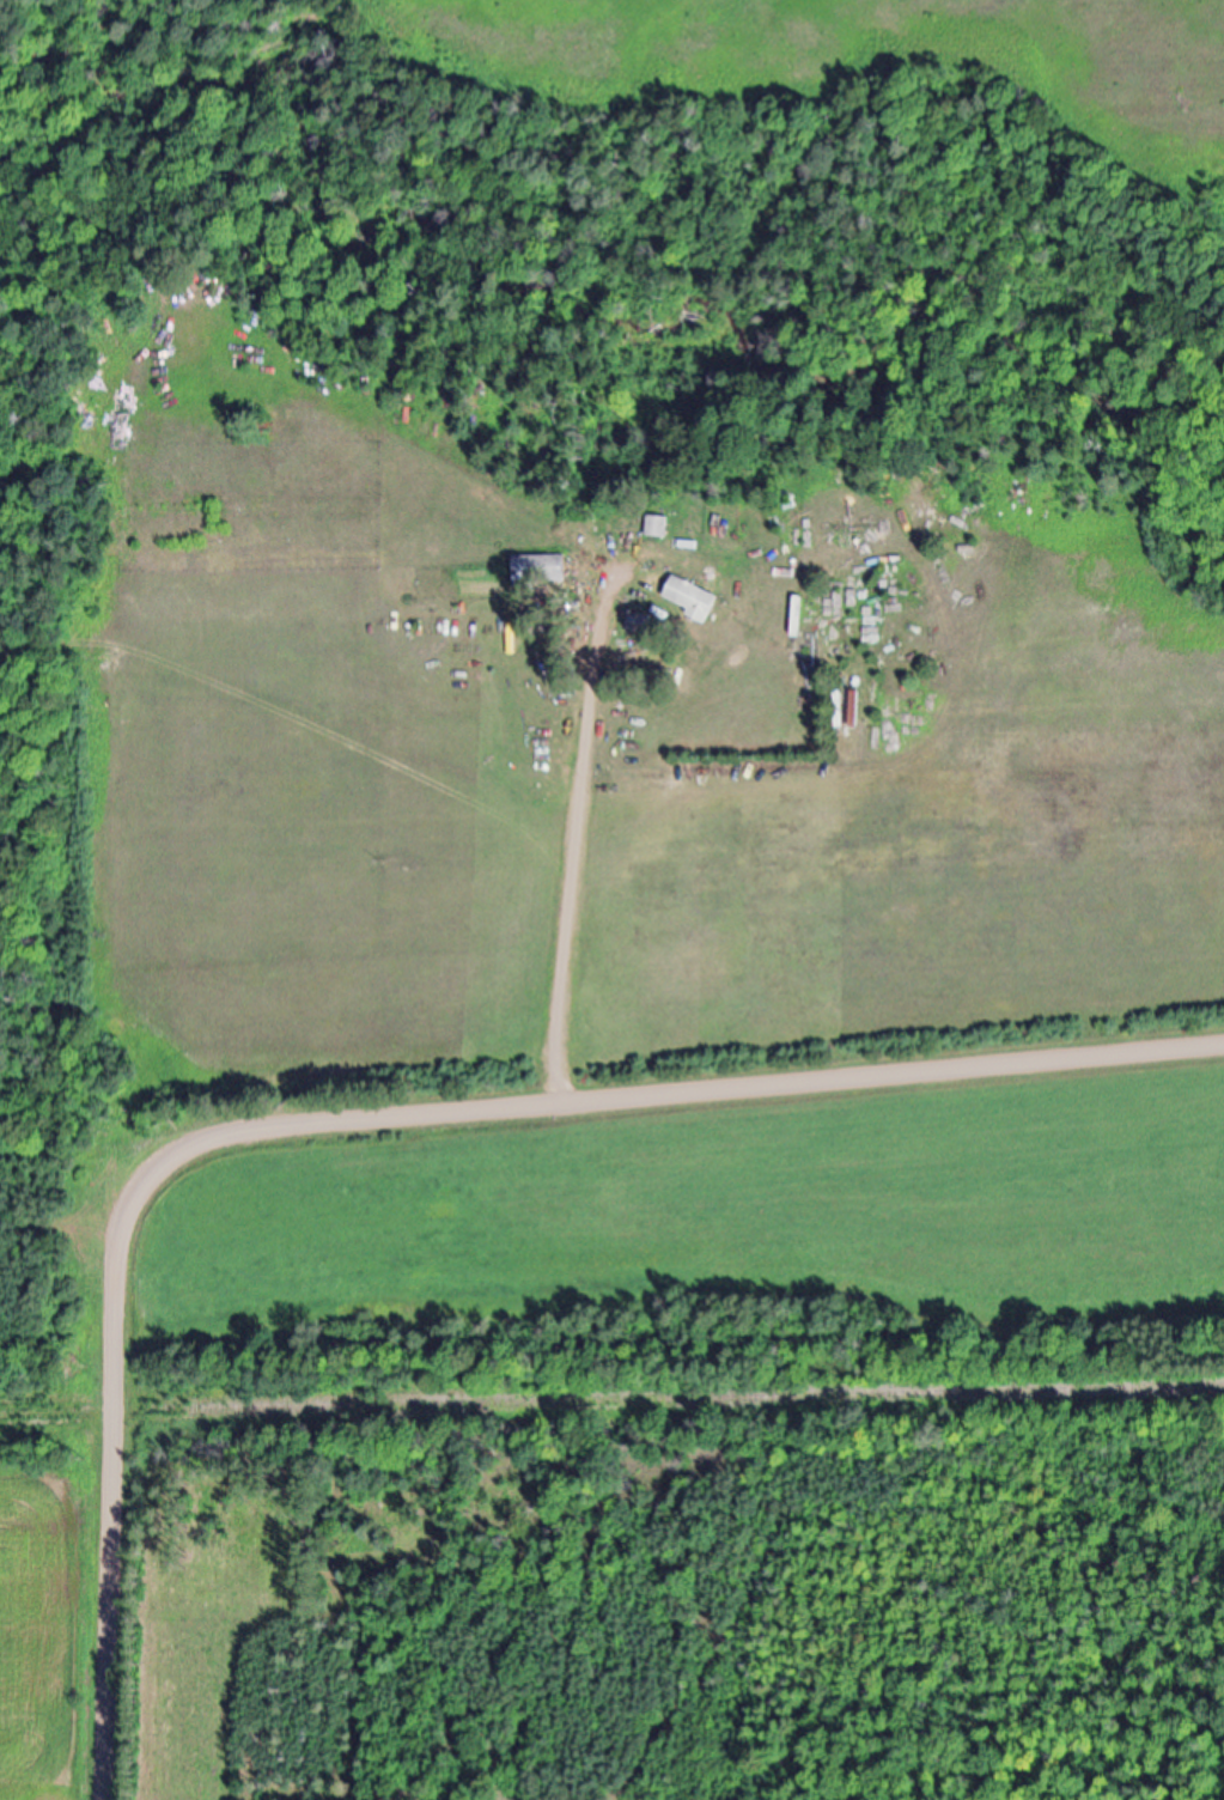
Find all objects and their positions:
building: (662, 528)
building: (544, 573)
building: (695, 600)
road: (578, 838)
road: (358, 1111)
railway: (611, 1403)

